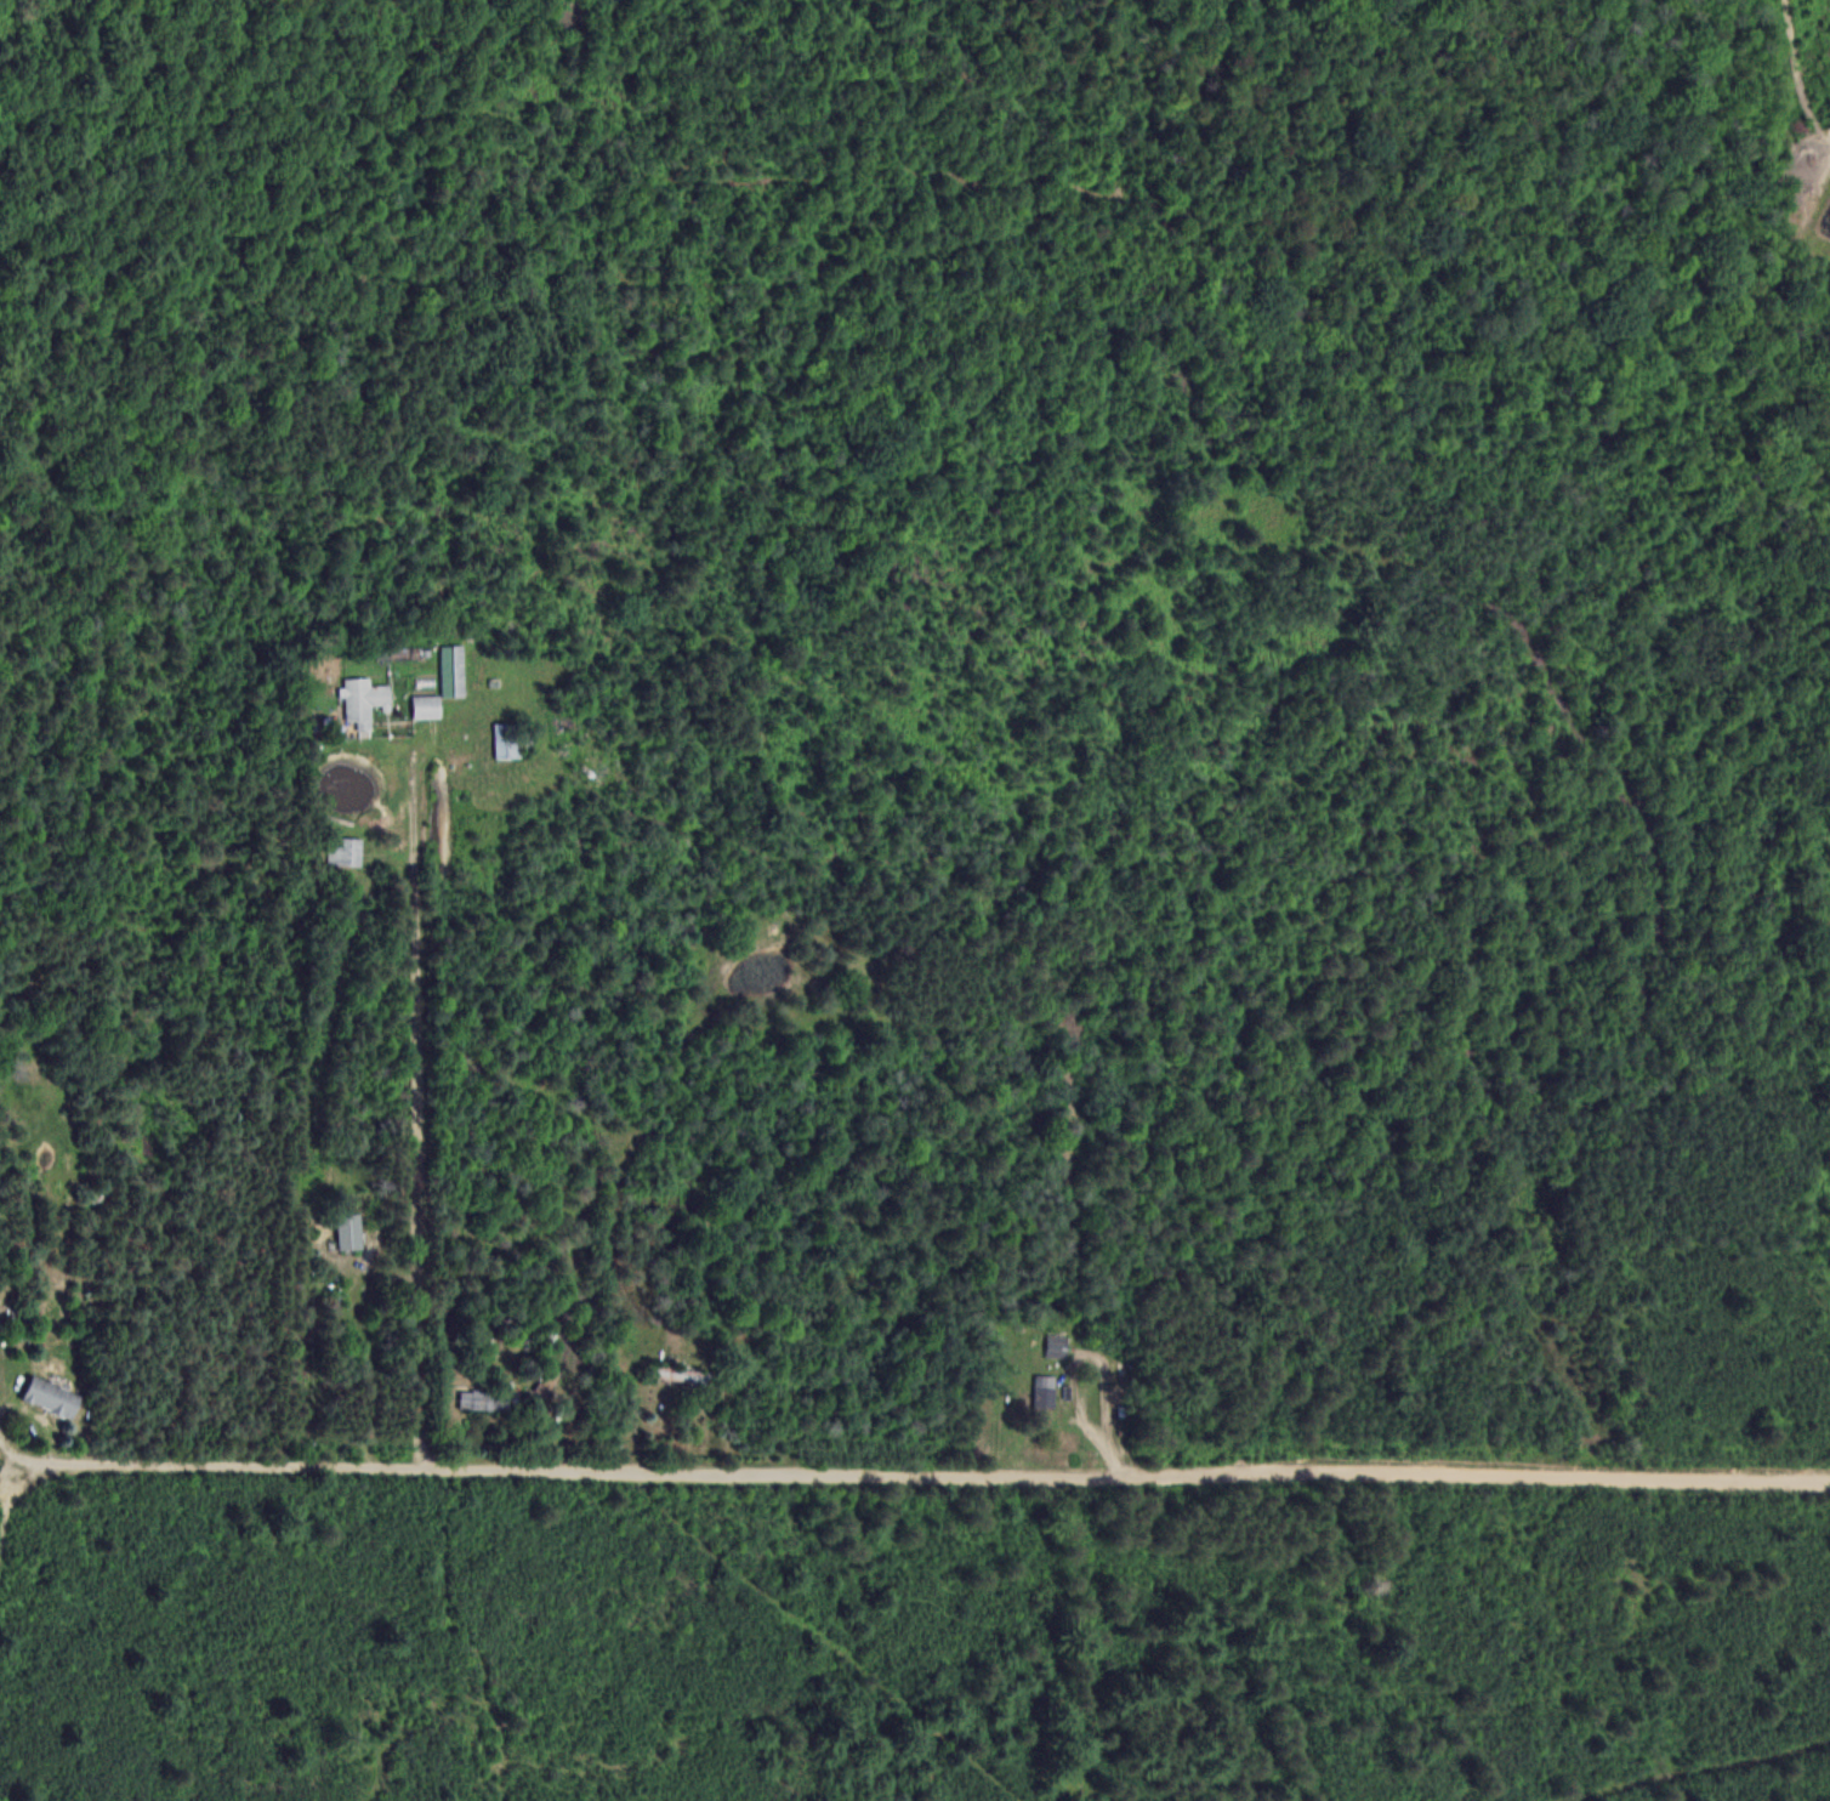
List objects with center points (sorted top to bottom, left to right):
building: (453, 671)
building: (363, 700)
building: (426, 706)
building: (506, 742)
building: (347, 851)
road: (426, 1110)
building: (349, 1229)
building: (1057, 1343)
building: (681, 1374)
building: (551, 1377)
building: (1045, 1391)
building: (51, 1396)
building: (484, 1399)
road: (926, 1467)

